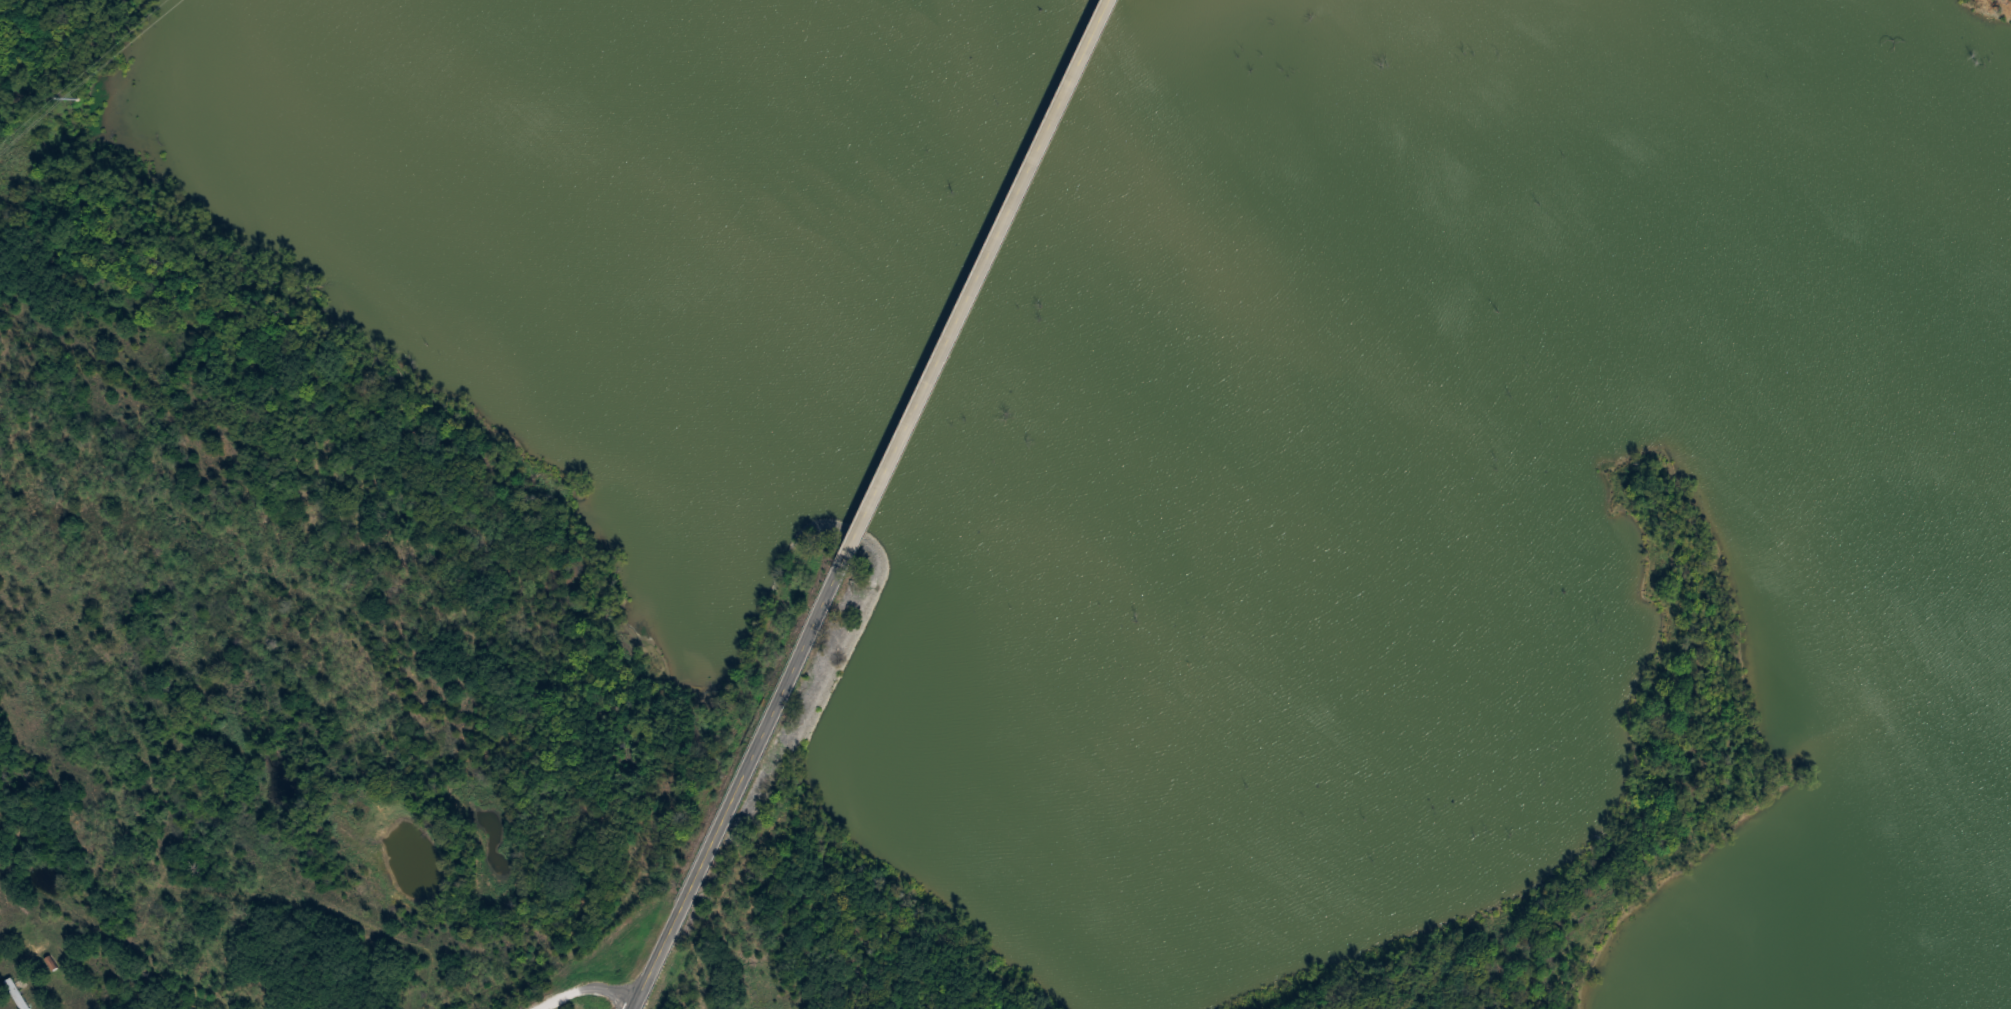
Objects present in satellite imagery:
building: (1190, 103)
road: (983, 266)
building: (1033, 385)
road: (746, 769)
road: (603, 977)
road: (580, 995)

